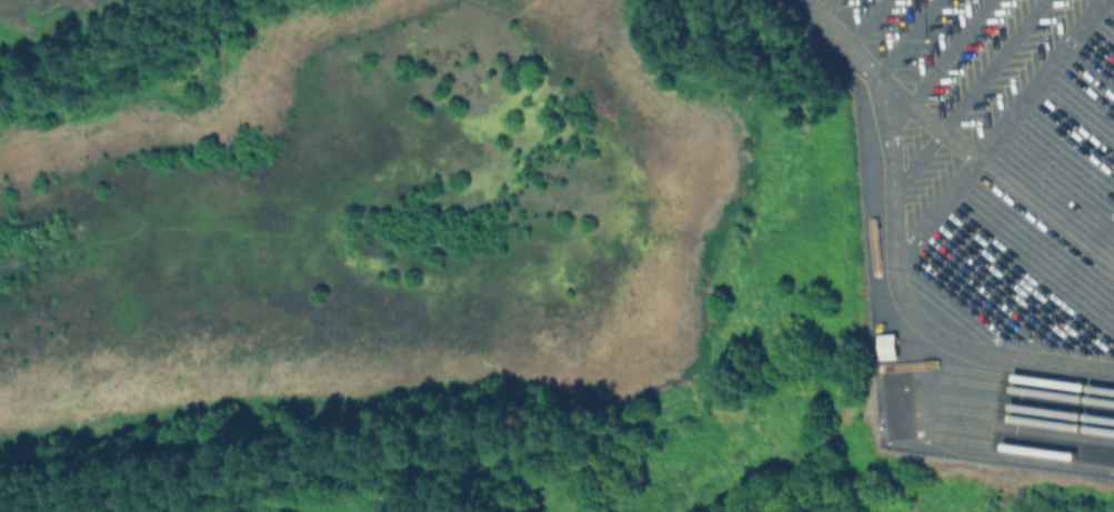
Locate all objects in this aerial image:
road: (952, 138)
road: (913, 323)
building: (886, 345)
building: (899, 402)

